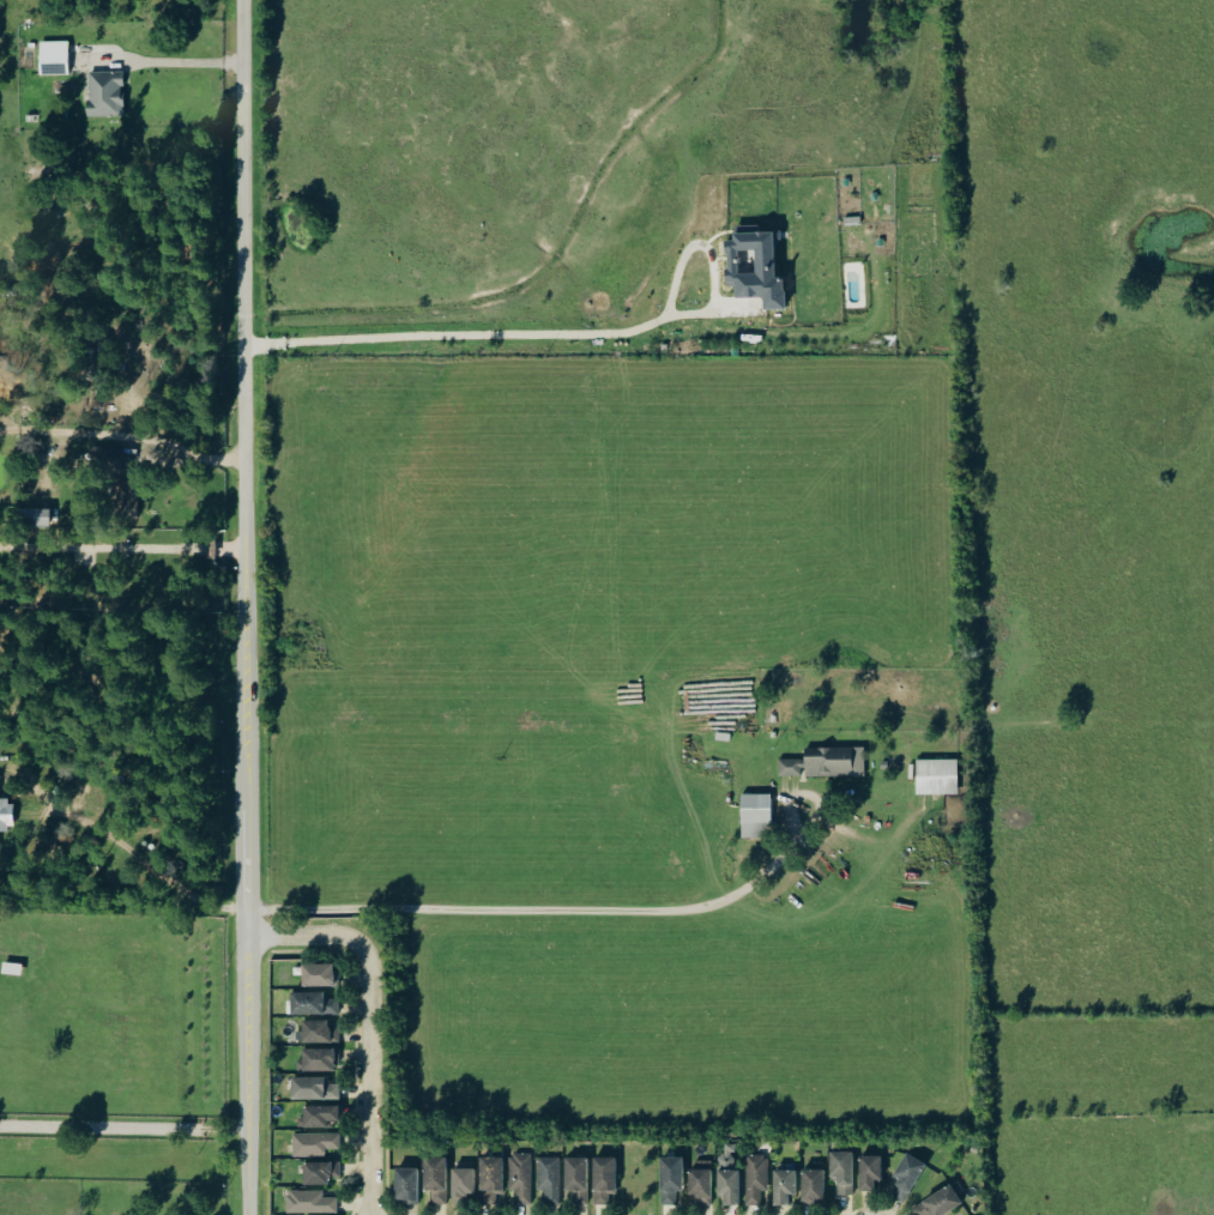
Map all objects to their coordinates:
building: (53, 58)
road: (165, 61)
building: (105, 93)
building: (754, 267)
road: (481, 336)
road: (125, 443)
building: (105, 455)
building: (128, 504)
road: (125, 549)
road: (248, 564)
building: (834, 762)
building: (790, 768)
building: (937, 776)
building: (6, 815)
building: (755, 815)
road: (146, 862)
road: (546, 911)
road: (304, 935)
building: (319, 973)
building: (313, 1003)
building: (318, 1032)
building: (319, 1058)
road: (372, 1077)
building: (314, 1087)
building: (320, 1114)
road: (123, 1126)
building: (314, 1143)
building: (842, 1169)
building: (320, 1171)
building: (870, 1171)
road: (248, 1172)
building: (729, 1173)
building: (907, 1174)
building: (521, 1177)
building: (756, 1177)
building: (435, 1178)
building: (491, 1178)
building: (550, 1178)
building: (578, 1178)
building: (604, 1178)
building: (671, 1178)
building: (701, 1181)
building: (461, 1183)
building: (405, 1184)
building: (813, 1184)
building: (784, 1185)
building: (310, 1202)
building: (937, 1202)

